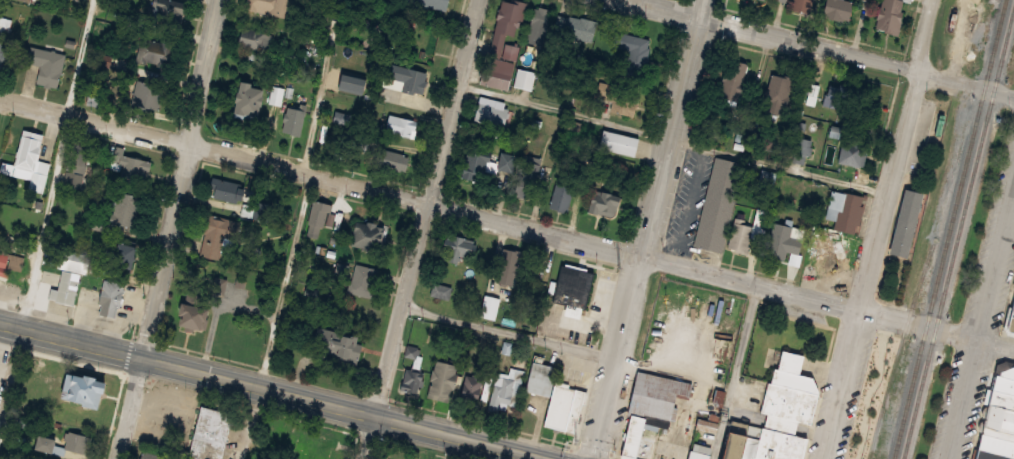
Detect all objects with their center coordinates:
building: (26, 0)
building: (784, 0)
building: (430, 3)
building: (170, 5)
building: (891, 5)
building: (265, 6)
building: (800, 6)
building: (837, 10)
building: (508, 17)
building: (887, 22)
building: (536, 26)
building: (5, 27)
building: (574, 27)
building: (248, 39)
road: (833, 46)
building: (631, 51)
building: (154, 53)
building: (4, 57)
building: (47, 64)
building: (496, 72)
building: (405, 77)
building: (731, 80)
building: (351, 82)
building: (775, 93)
building: (146, 95)
building: (615, 98)
building: (835, 98)
building: (243, 99)
power tower: (658, 107)
building: (489, 111)
building: (339, 117)
building: (291, 121)
building: (397, 125)
road: (674, 136)
building: (359, 143)
building: (616, 143)
building: (26, 149)
building: (800, 149)
building: (851, 154)
building: (77, 155)
building: (390, 159)
building: (502, 161)
building: (473, 162)
road: (58, 165)
building: (130, 166)
building: (527, 179)
building: (225, 190)
road: (304, 195)
building: (560, 198)
building: (603, 201)
building: (717, 204)
building: (123, 209)
building: (843, 210)
building: (316, 217)
building: (903, 222)
road: (506, 223)
road: (420, 228)
road: (171, 229)
road: (651, 229)
road: (881, 229)
railway: (951, 229)
building: (217, 234)
building: (367, 235)
building: (738, 236)
railway: (959, 237)
building: (779, 241)
building: (457, 247)
building: (120, 256)
building: (832, 257)
building: (72, 260)
building: (3, 265)
building: (508, 266)
power tower: (619, 268)
building: (362, 280)
railway: (922, 281)
building: (569, 287)
building: (67, 288)
building: (440, 290)
building: (109, 297)
building: (488, 306)
building: (190, 313)
building: (1009, 318)
road: (512, 331)
road: (981, 339)
building: (424, 342)
building: (336, 344)
road: (9, 372)
road: (738, 372)
building: (538, 378)
building: (412, 381)
building: (441, 381)
building: (470, 387)
building: (77, 389)
building: (505, 389)
road: (877, 389)
road: (274, 392)
building: (666, 395)
building: (787, 395)
parking lot: (850, 399)
building: (563, 407)
building: (996, 415)
road: (251, 424)
building: (705, 425)
building: (208, 433)
building: (632, 436)
power tower: (577, 437)
building: (77, 443)
building: (48, 445)
building: (311, 445)
building: (782, 445)
building: (647, 447)
building: (730, 447)
building: (700, 448)
building: (749, 448)
building: (695, 455)

